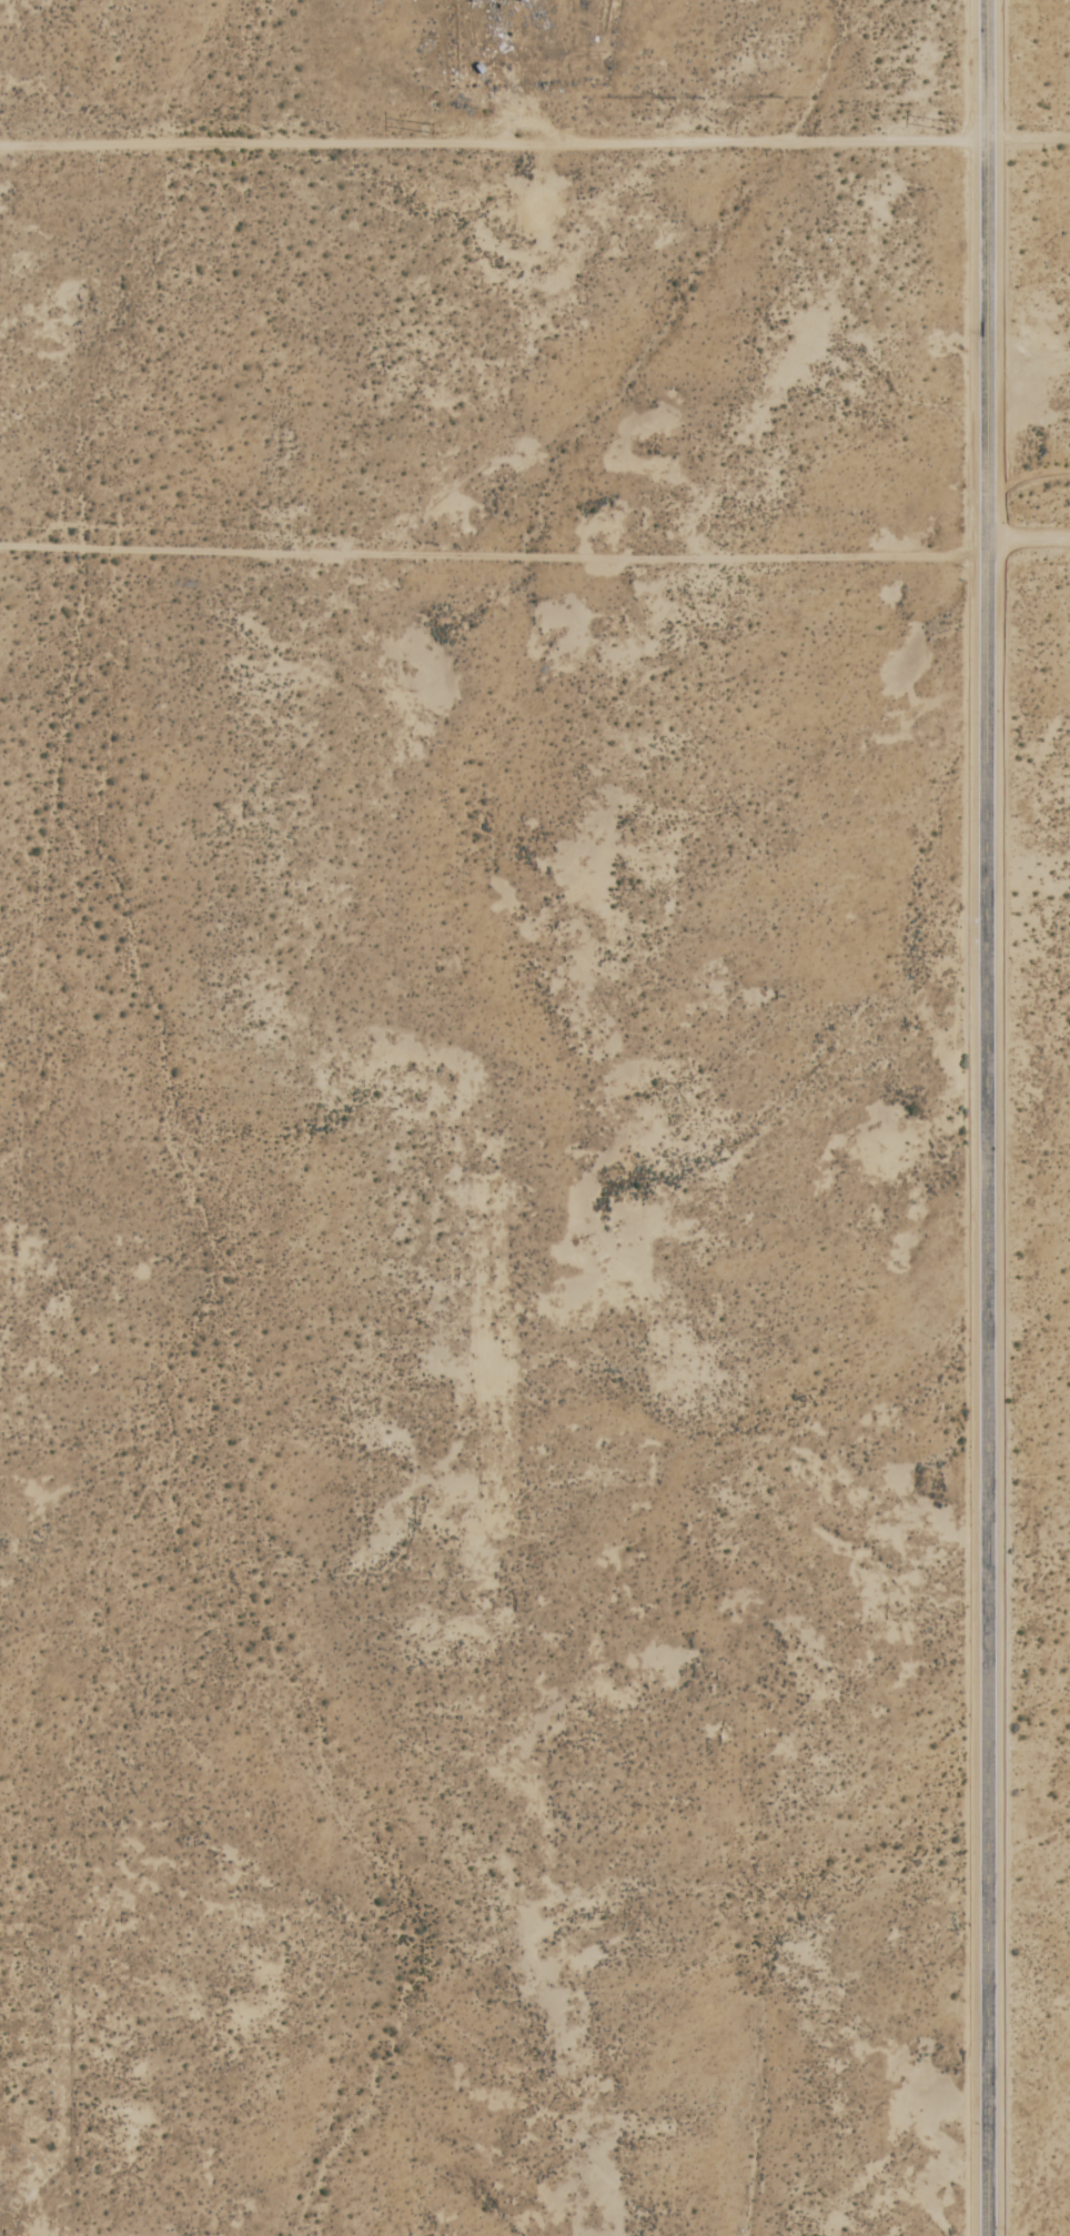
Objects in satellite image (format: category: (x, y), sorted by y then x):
power tower: (942, 127)
power tower: (433, 128)
road: (1030, 137)
road: (495, 143)
road: (1028, 537)
road: (493, 553)
road: (987, 1117)

